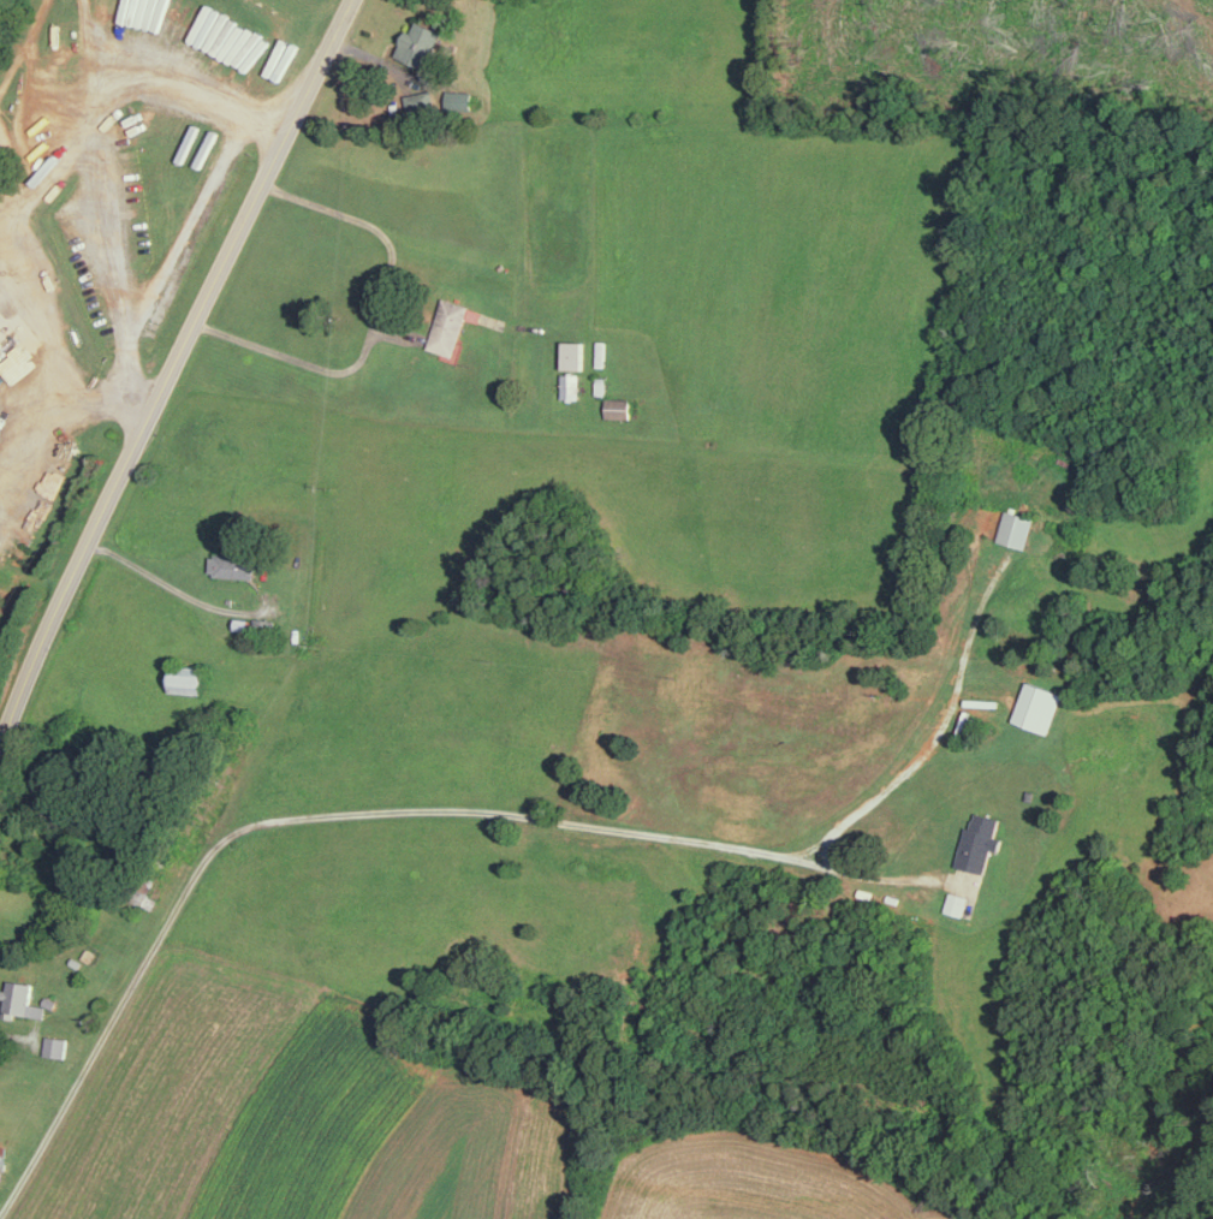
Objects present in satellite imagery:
building: (422, 42)
road: (102, 43)
building: (460, 100)
building: (422, 101)
road: (31, 185)
road: (6, 190)
road: (106, 237)
road: (174, 251)
road: (377, 317)
building: (451, 326)
building: (2, 350)
building: (576, 355)
road: (172, 371)
building: (571, 385)
building: (602, 385)
building: (620, 406)
road: (37, 440)
building: (1017, 528)
building: (233, 565)
road: (176, 588)
building: (191, 683)
building: (1040, 707)
road: (357, 811)
building: (981, 839)
building: (957, 902)
building: (20, 998)
building: (55, 1045)
building: (2, 1159)

